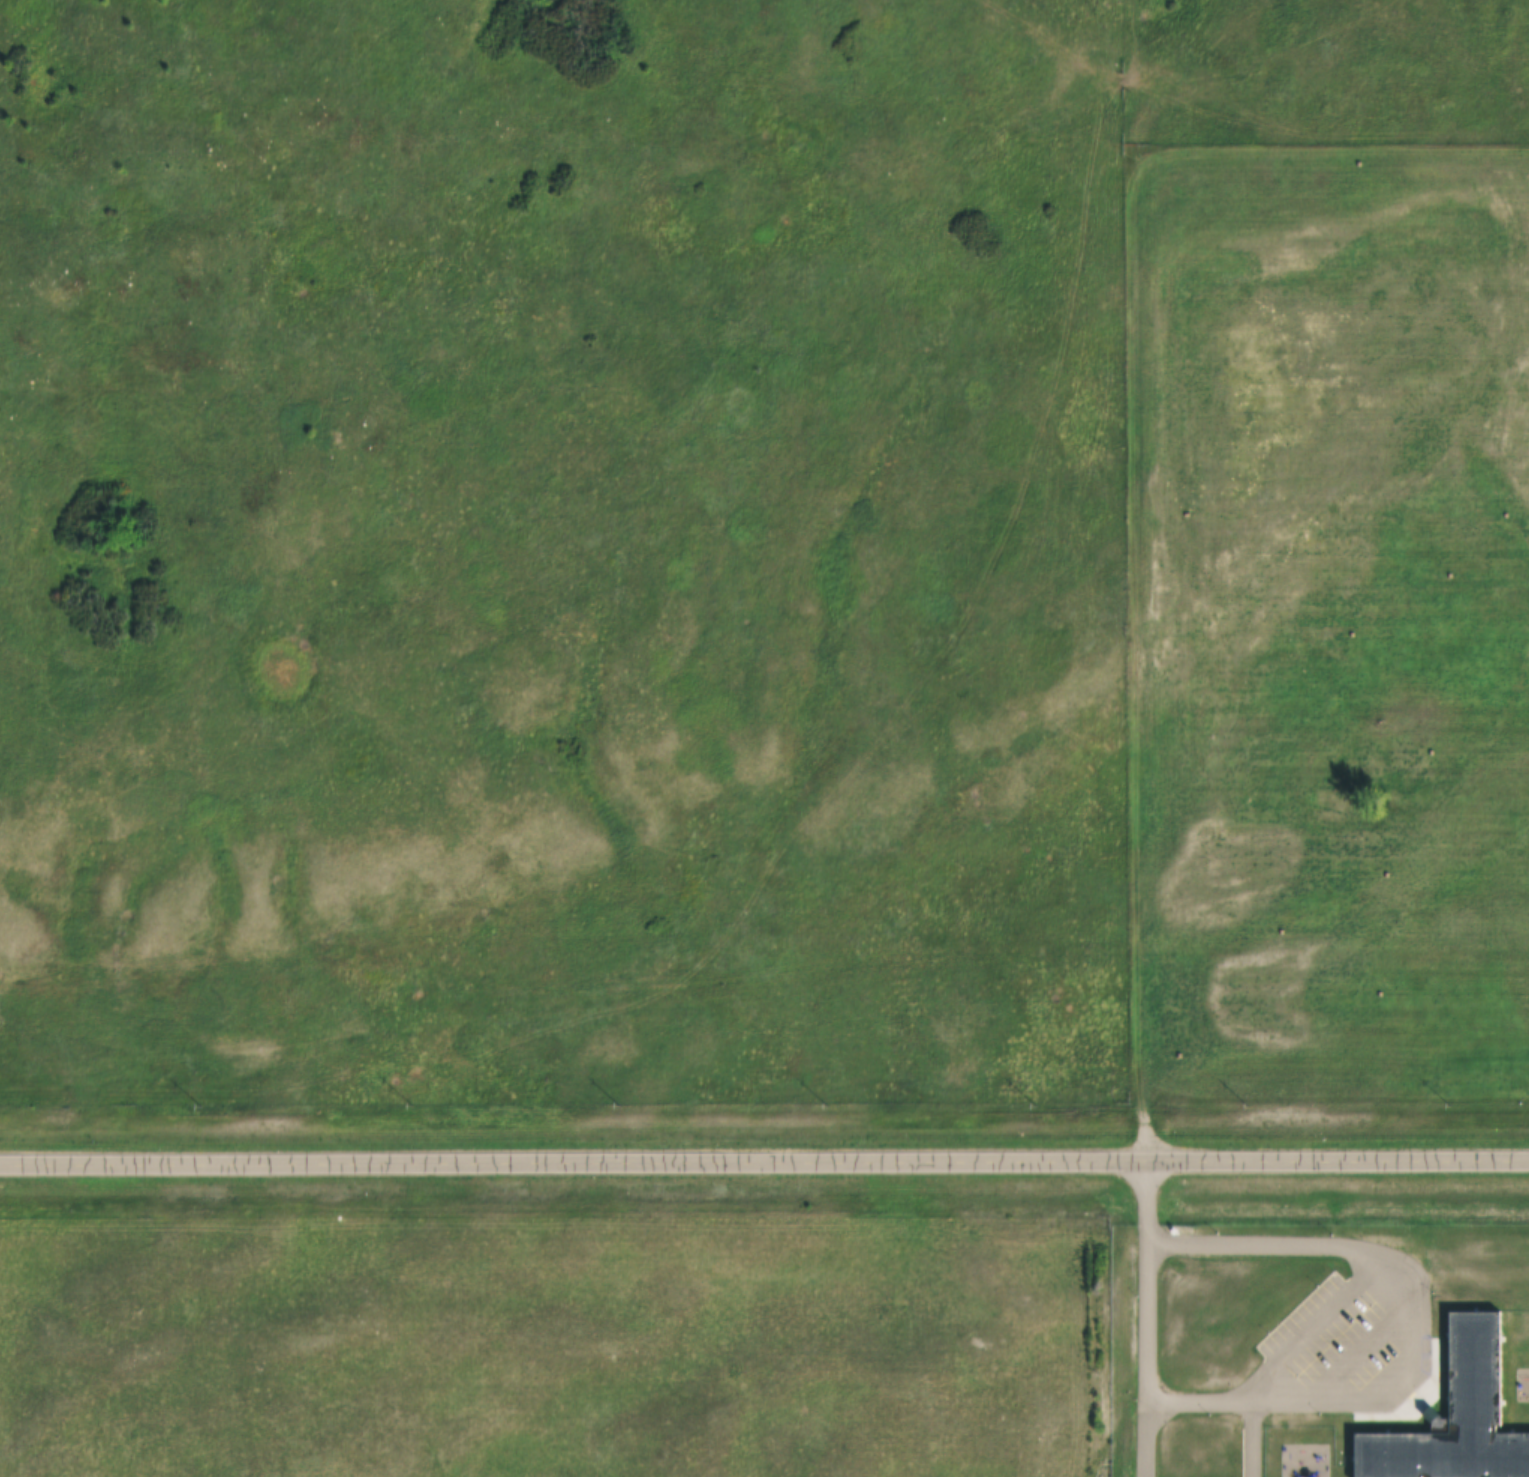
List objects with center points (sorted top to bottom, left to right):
road: (764, 1161)

